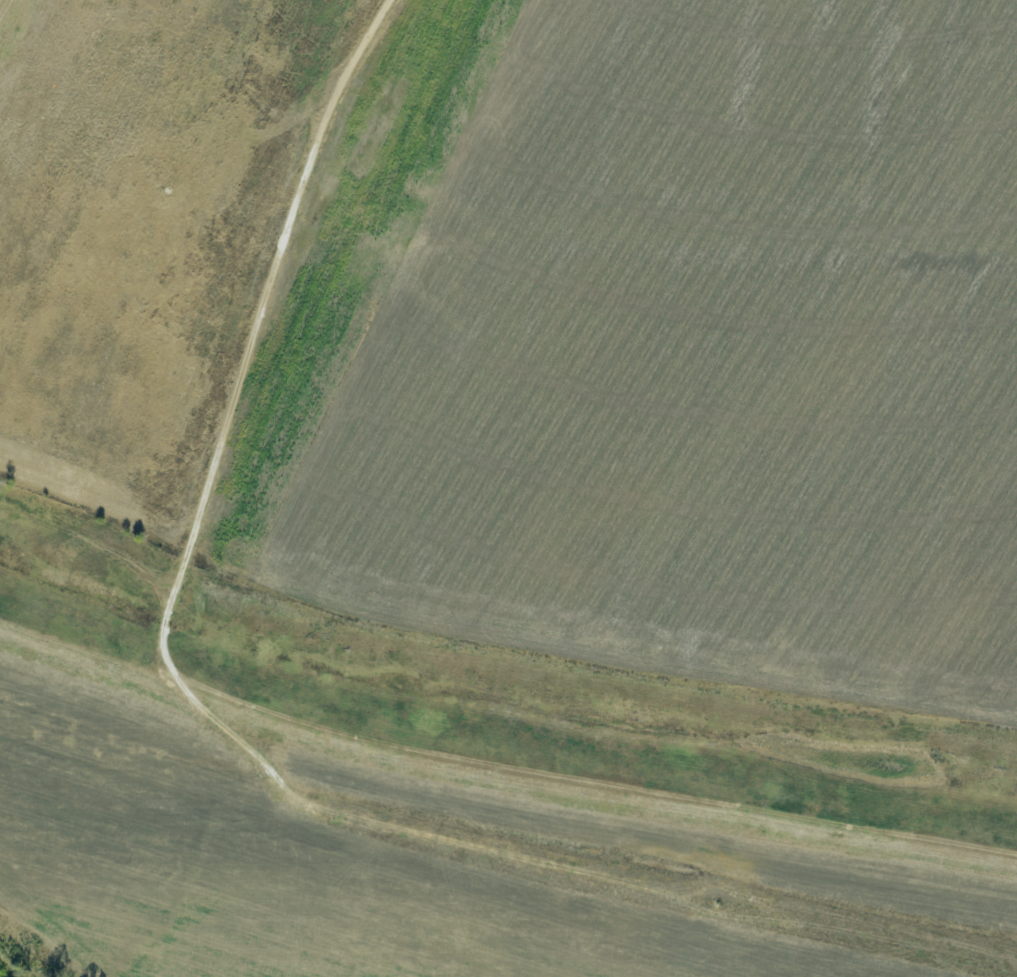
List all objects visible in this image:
road: (290, 742)

